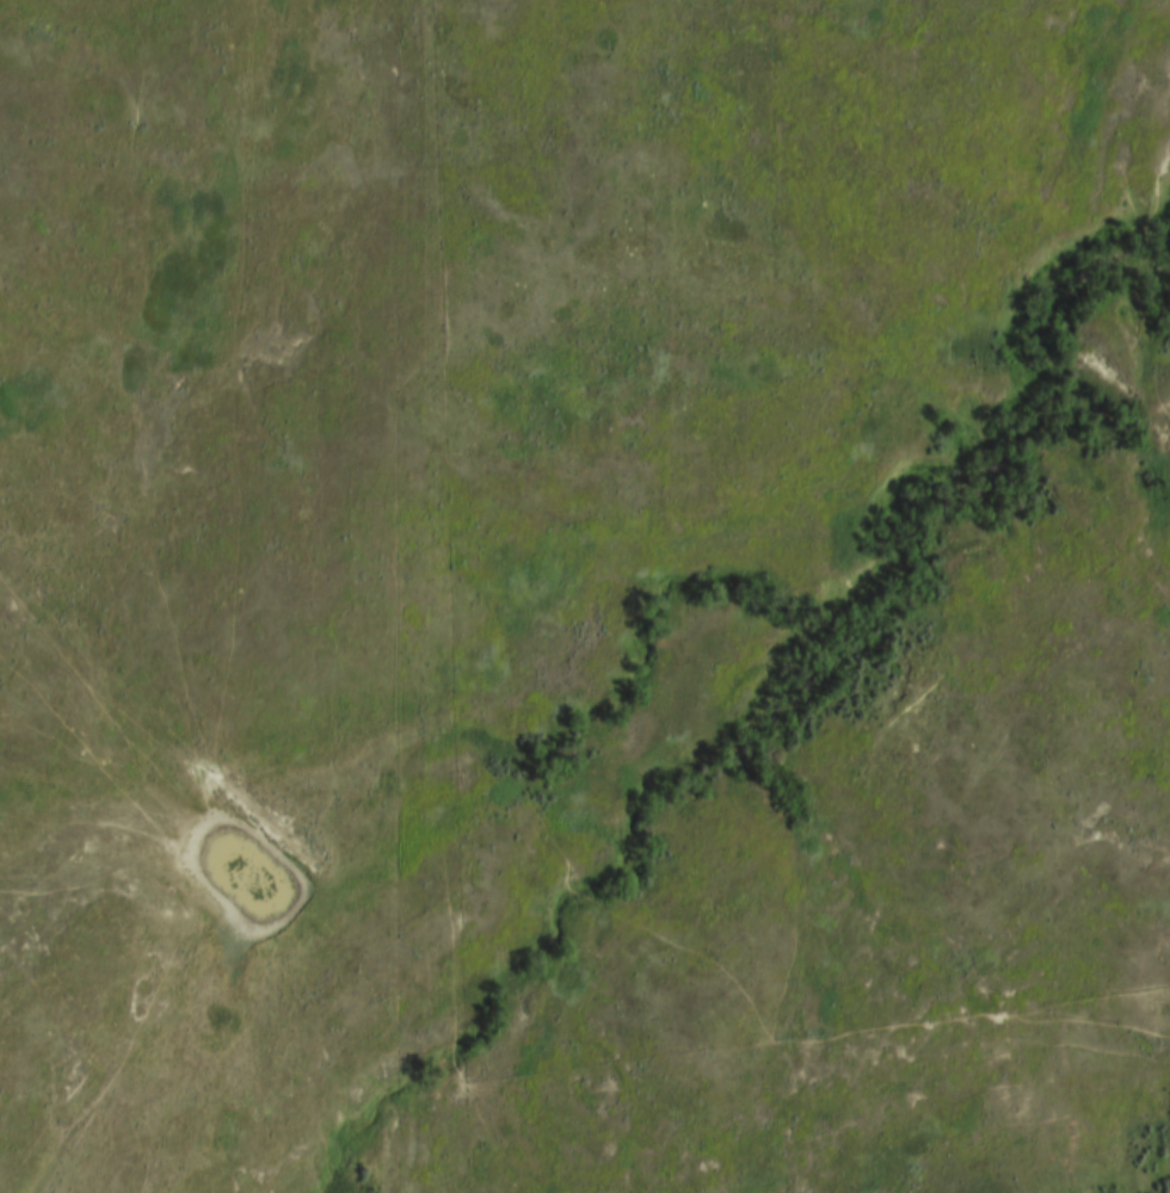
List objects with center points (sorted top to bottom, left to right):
road: (73, 674)

